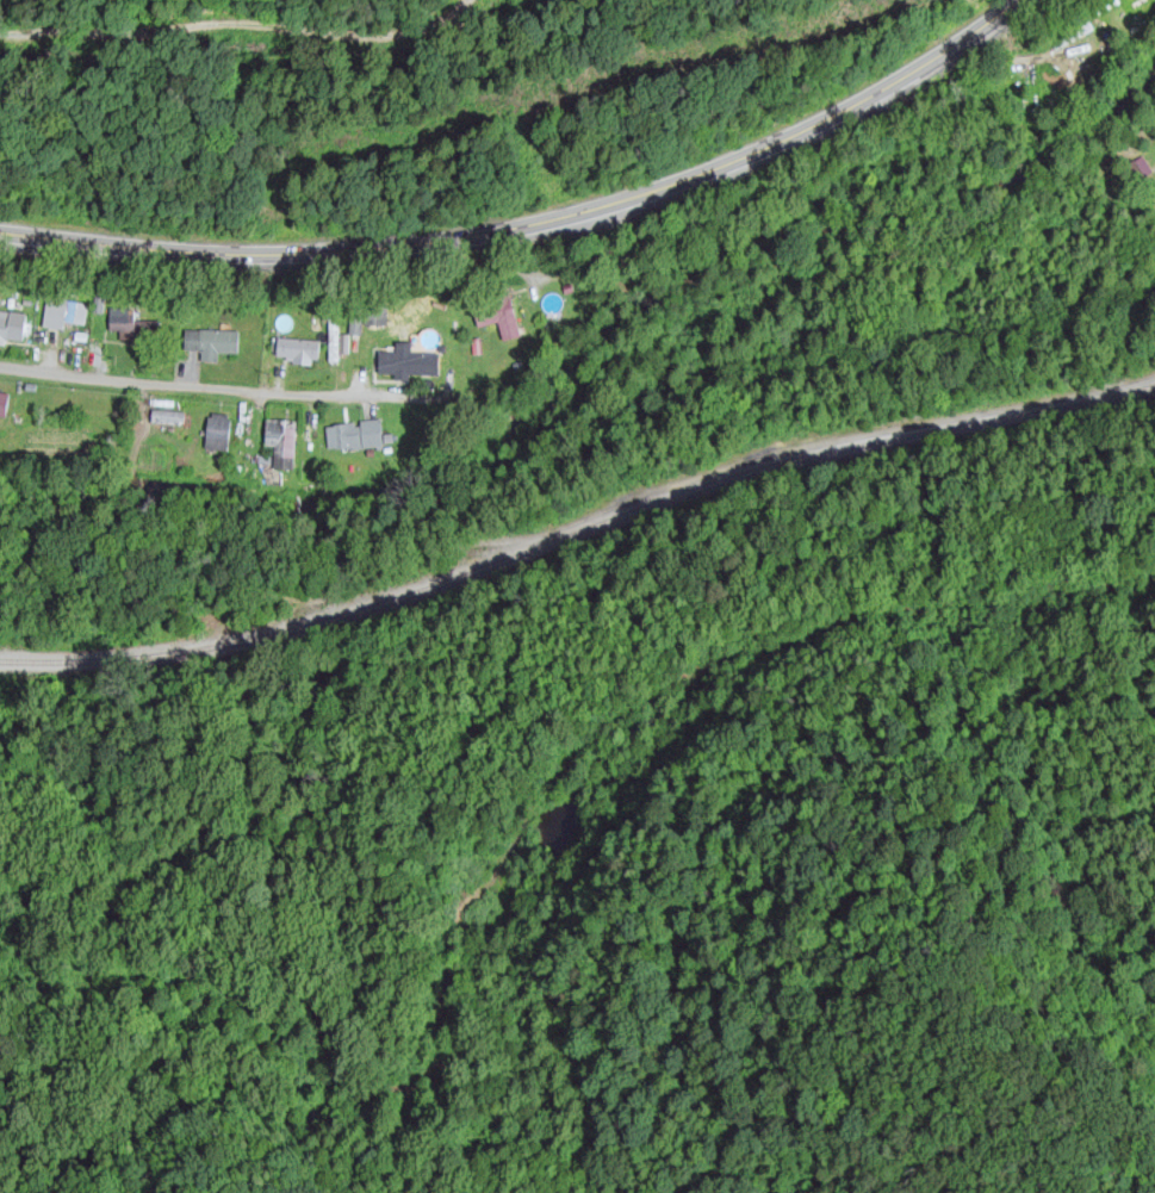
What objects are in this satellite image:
road: (242, 24)
building: (1088, 66)
road: (542, 224)
building: (62, 315)
building: (501, 318)
building: (133, 328)
building: (6, 329)
building: (334, 340)
building: (213, 344)
building: (300, 350)
building: (412, 367)
road: (222, 390)
building: (6, 406)
building: (168, 420)
building: (221, 434)
building: (355, 437)
building: (282, 441)
railway: (577, 529)

